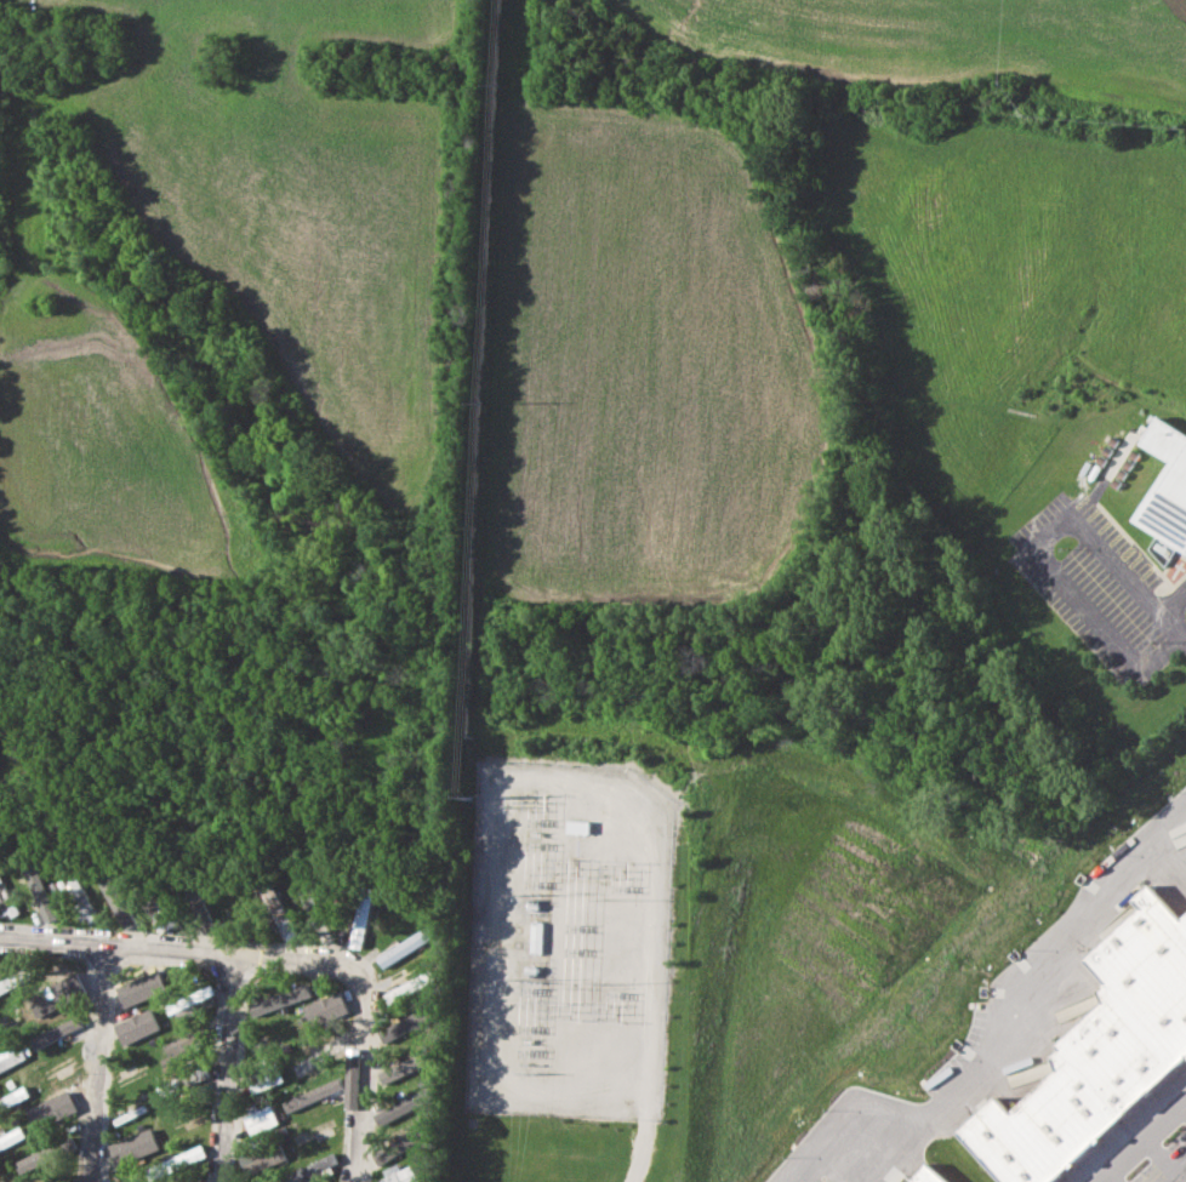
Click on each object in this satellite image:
building: (1167, 484)
road: (1032, 547)
road: (1175, 611)
road: (1181, 640)
building: (578, 826)
building: (1124, 917)
building: (361, 920)
power substation: (574, 941)
road: (284, 957)
building: (1151, 967)
building: (15, 980)
building: (281, 998)
building: (192, 1003)
road: (999, 1035)
building: (182, 1047)
building: (1114, 1061)
road: (103, 1063)
road: (228, 1068)
building: (401, 1068)
building: (257, 1083)
building: (13, 1098)
building: (260, 1119)
building: (1061, 1120)
building: (12, 1137)
road: (1142, 1143)
building: (1009, 1144)
building: (133, 1146)
road: (642, 1150)
building: (262, 1158)
building: (34, 1159)
road: (1168, 1159)
parking lot: (1162, 1161)
building: (313, 1166)
building: (398, 1174)
building: (928, 1175)
road: (1113, 1177)

